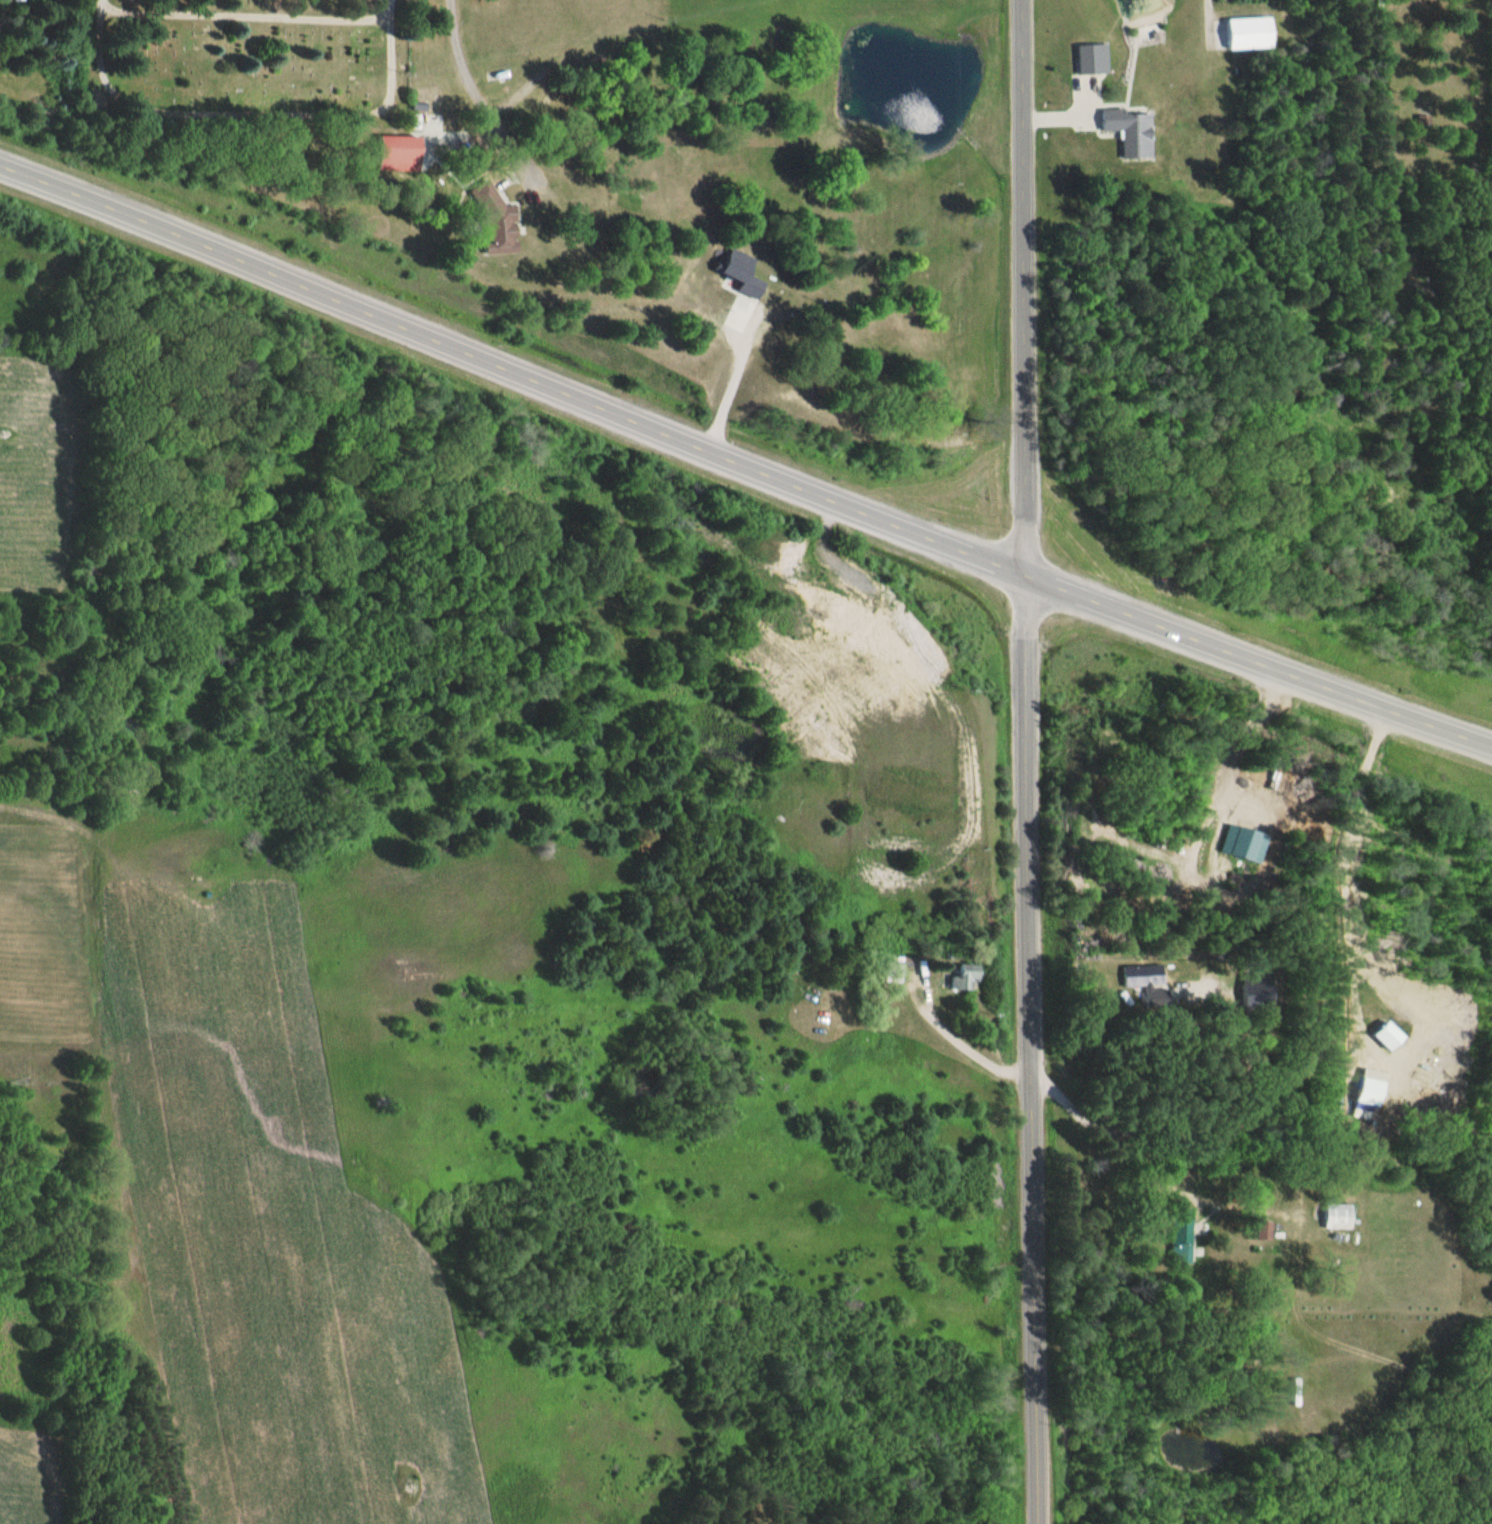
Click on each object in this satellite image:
road: (242, 19)
building: (1247, 32)
building: (1086, 59)
park: (244, 66)
building: (1421, 125)
road: (250, 127)
building: (1123, 131)
building: (390, 153)
building: (477, 199)
road: (1023, 285)
road: (743, 463)
building: (891, 972)
building: (962, 975)
building: (1142, 980)
road: (1027, 1047)
building: (1332, 1214)
building: (1257, 1229)
building: (1173, 1246)

